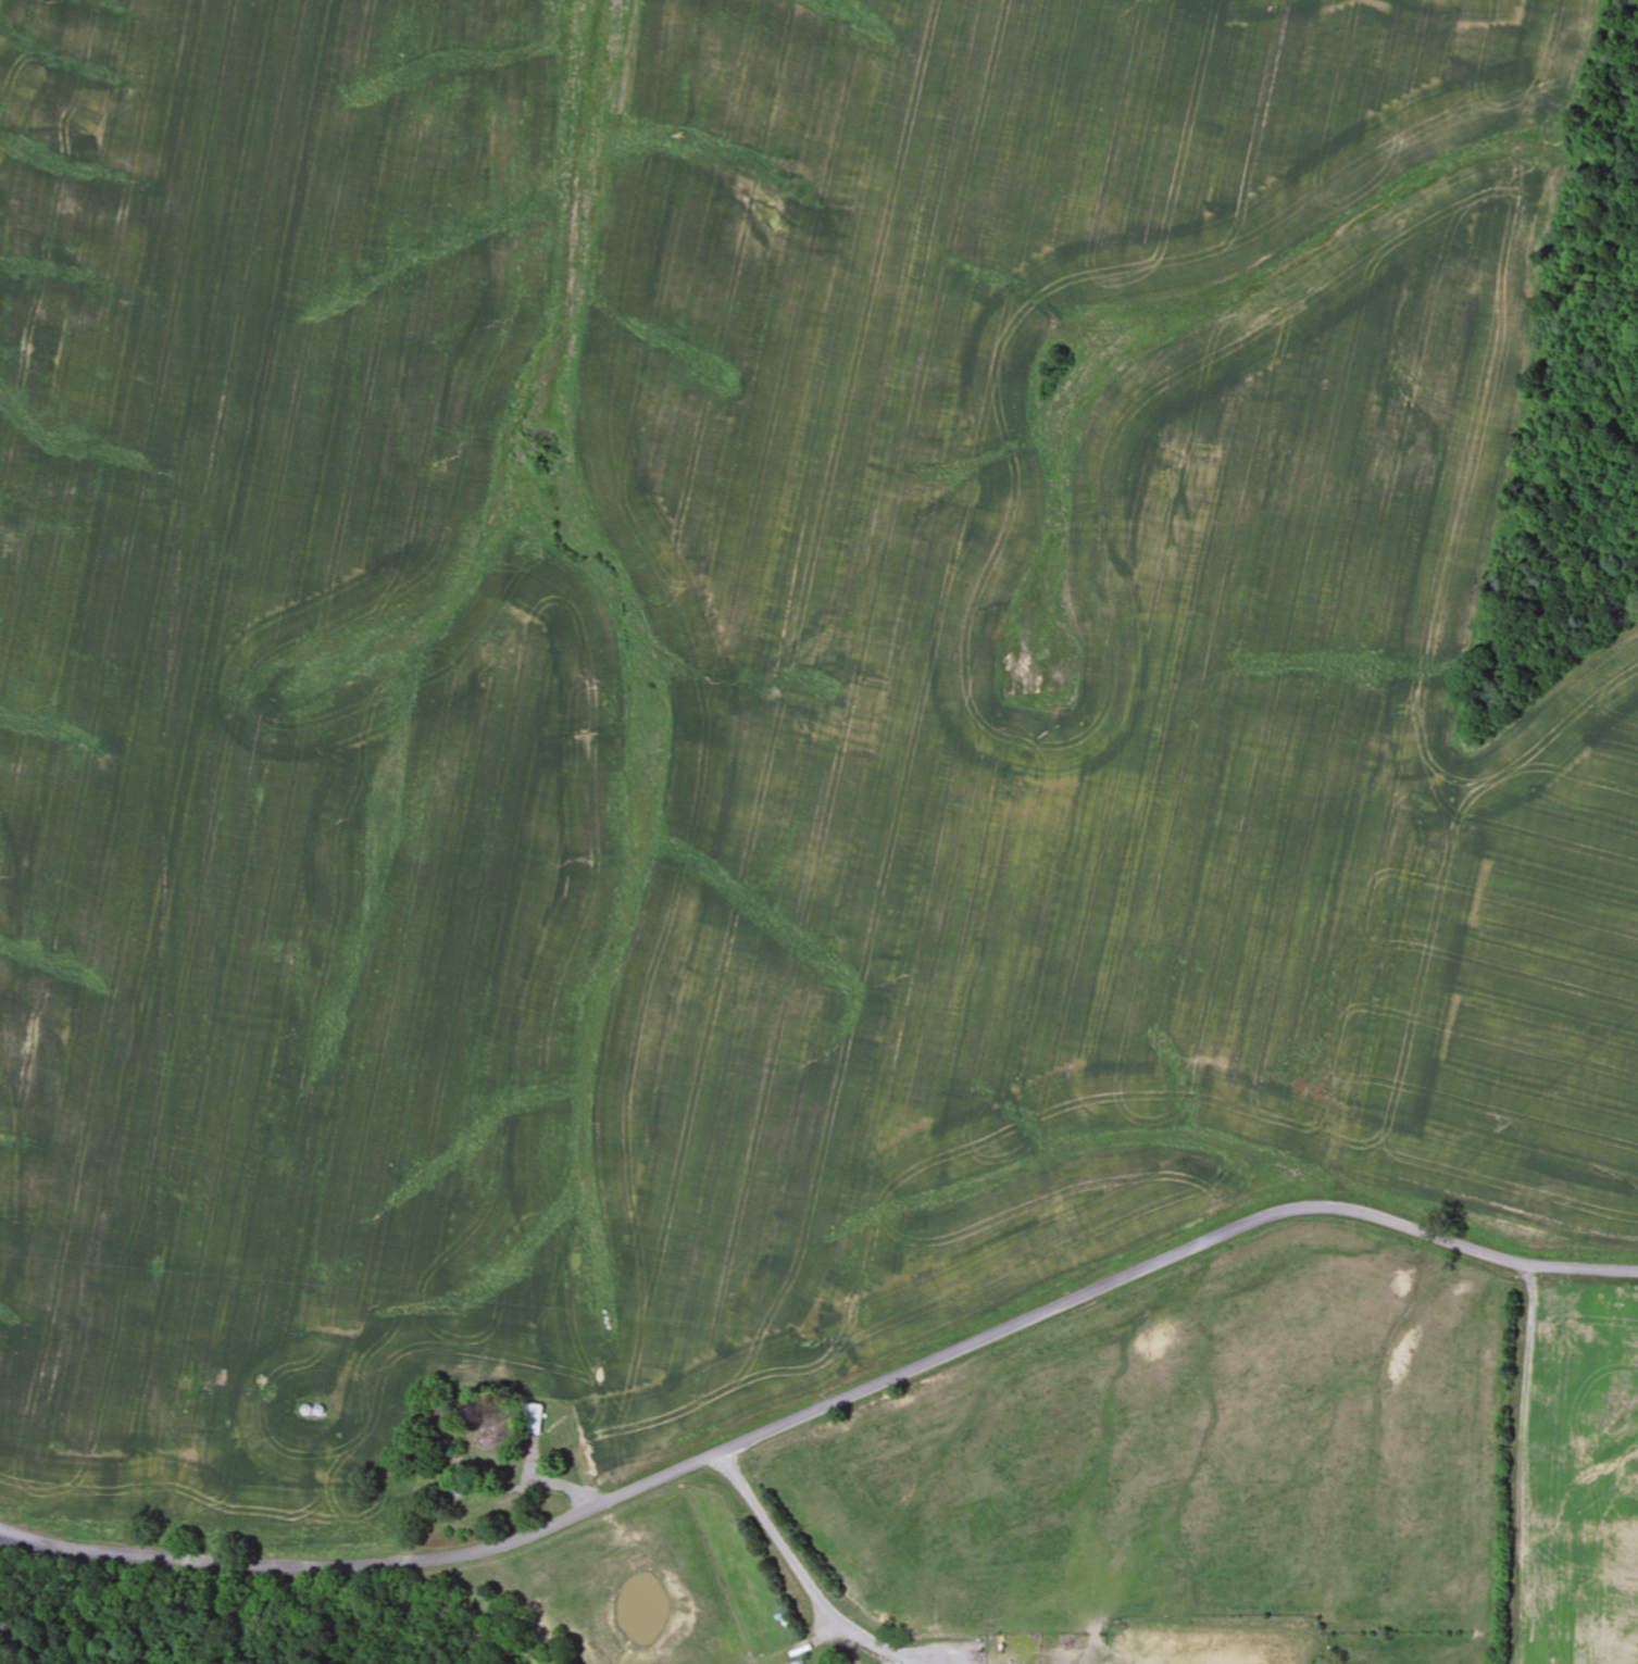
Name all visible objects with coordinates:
road: (826, 1407)
building: (534, 1419)

